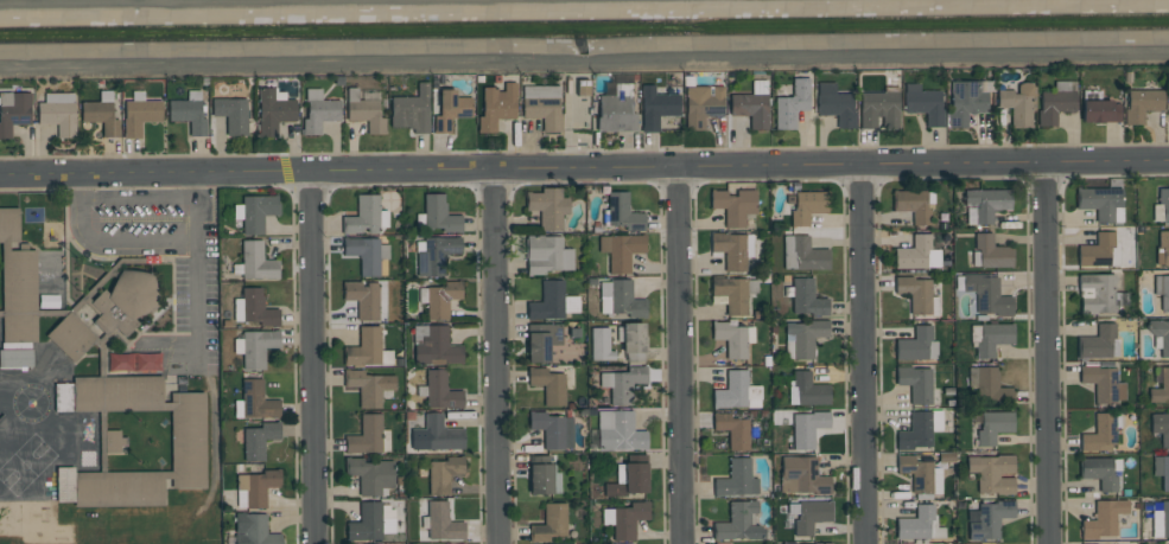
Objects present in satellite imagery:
road: (174, 2)
building: (576, 102)
building: (964, 103)
building: (1017, 103)
building: (790, 104)
building: (701, 105)
building: (1055, 105)
building: (1142, 105)
building: (496, 107)
building: (542, 107)
building: (925, 107)
building: (656, 108)
building: (450, 109)
building: (750, 109)
building: (837, 109)
building: (877, 109)
building: (411, 110)
building: (616, 110)
building: (274, 111)
building: (1100, 111)
building: (14, 114)
building: (231, 114)
building: (188, 115)
building: (319, 115)
building: (366, 115)
building: (100, 116)
building: (139, 116)
building: (58, 119)
road: (584, 167)
road: (136, 200)
building: (1099, 201)
building: (986, 203)
building: (913, 205)
building: (1164, 205)
building: (733, 206)
building: (807, 206)
building: (547, 207)
building: (622, 212)
building: (256, 213)
building: (439, 215)
building: (363, 216)
road: (142, 237)
building: (1164, 245)
building: (730, 250)
building: (1097, 250)
building: (623, 251)
building: (991, 252)
building: (913, 254)
building: (364, 255)
building: (542, 255)
building: (808, 255)
building: (434, 256)
building: (256, 262)
building: (17, 281)
road: (195, 290)
building: (1162, 290)
building: (915, 293)
building: (731, 294)
building: (1097, 294)
building: (987, 295)
building: (363, 299)
building: (440, 299)
building: (624, 299)
building: (807, 299)
building: (548, 301)
building: (125, 302)
building: (258, 309)
building: (1160, 335)
building: (70, 337)
building: (806, 337)
building: (992, 339)
building: (541, 340)
building: (731, 340)
building: (634, 341)
building: (1097, 343)
building: (601, 345)
building: (914, 345)
building: (436, 347)
building: (256, 348)
building: (364, 348)
road: (680, 354)
road: (1047, 354)
road: (863, 356)
road: (497, 357)
road: (312, 358)
building: (15, 359)
building: (133, 361)
building: (915, 383)
building: (1100, 383)
building: (548, 385)
building: (625, 385)
building: (991, 385)
building: (369, 386)
building: (1160, 388)
building: (811, 390)
building: (440, 391)
building: (737, 392)
building: (256, 401)
building: (993, 427)
building: (1160, 427)
building: (548, 429)
building: (807, 429)
building: (733, 430)
building: (915, 431)
building: (1100, 434)
building: (437, 435)
building: (622, 435)
building: (366, 436)
building: (259, 440)
building: (188, 441)
building: (1098, 472)
building: (992, 473)
building: (370, 474)
building: (443, 474)
building: (540, 474)
building: (916, 474)
building: (1165, 474)
building: (802, 476)
building: (736, 479)
building: (629, 481)
building: (260, 487)
building: (811, 516)
building: (1103, 518)
building: (1164, 519)
building: (628, 520)
building: (990, 520)
building: (739, 523)
building: (366, 524)
building: (443, 524)
building: (549, 524)
building: (916, 524)
building: (253, 530)
building: (798, 543)

